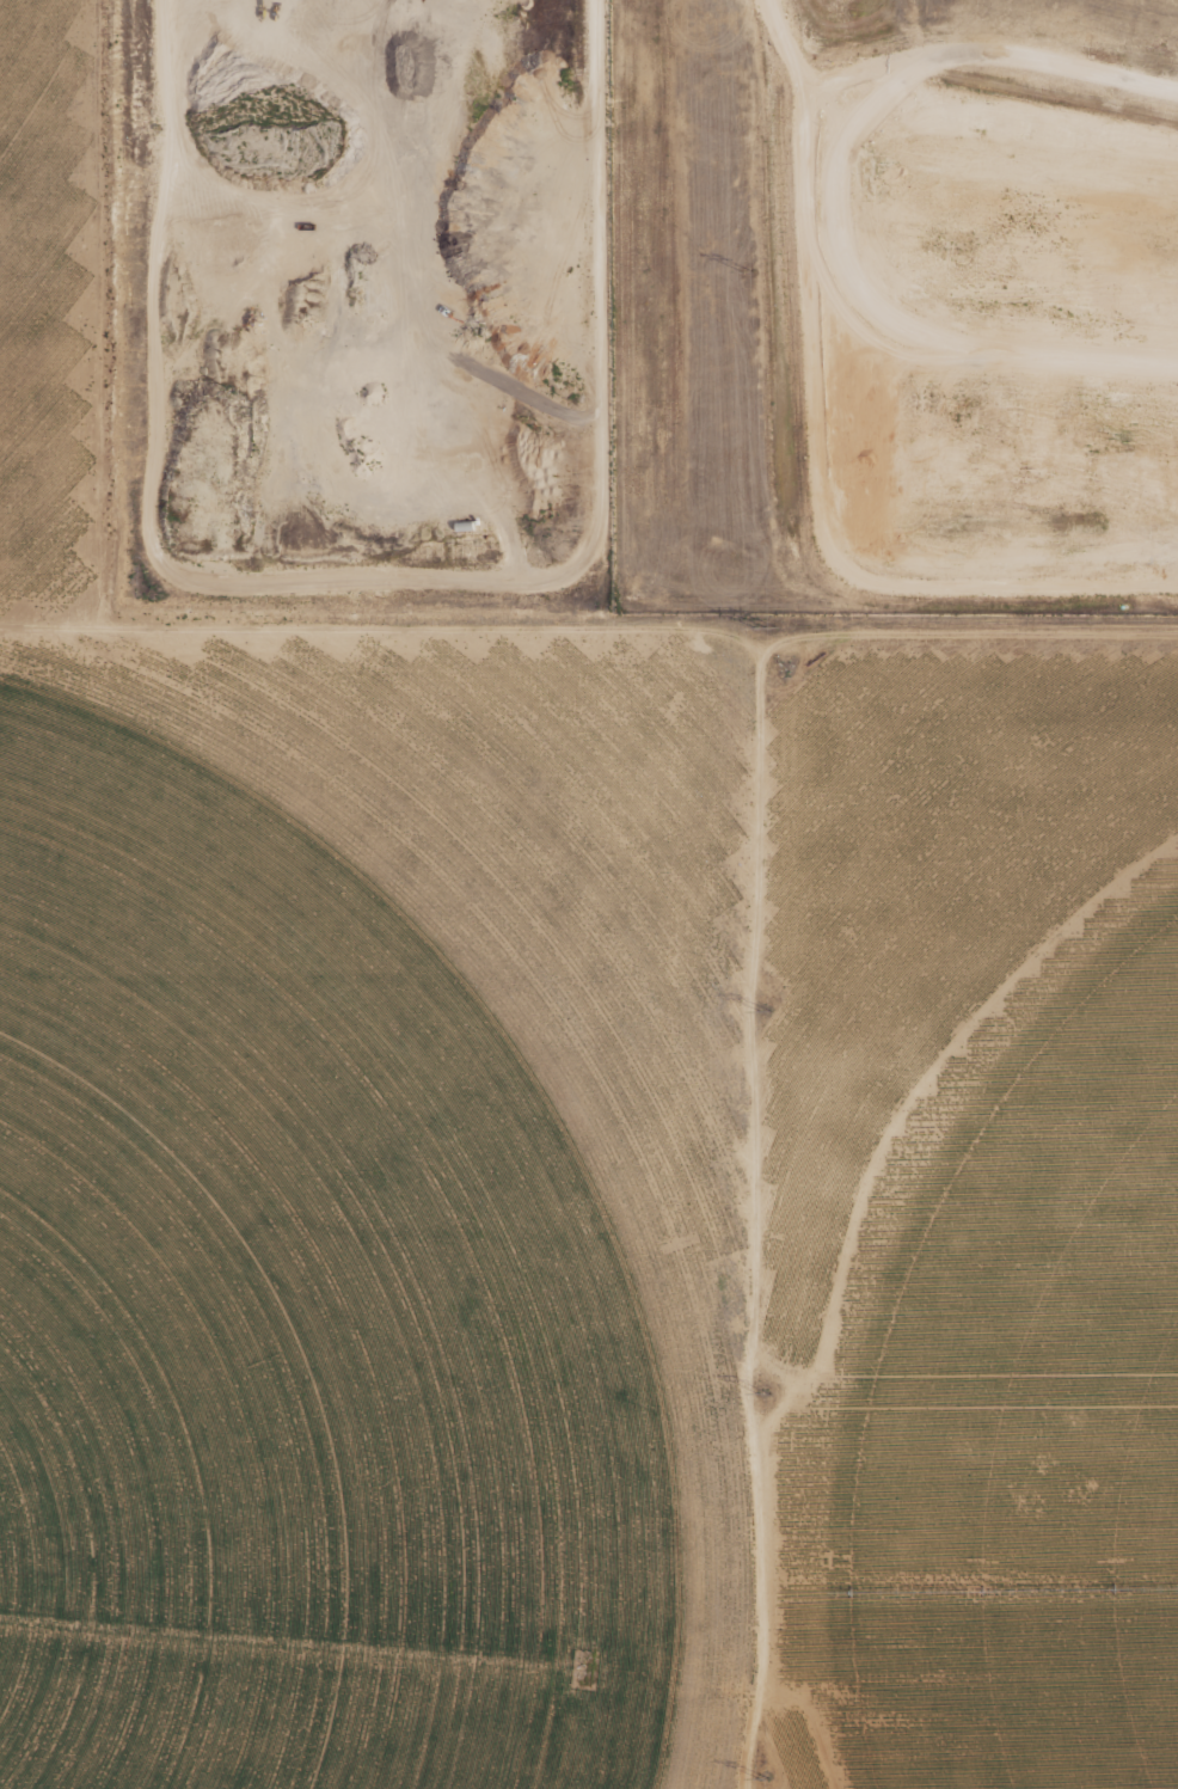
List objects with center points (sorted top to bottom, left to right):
road: (944, 60)
road: (1036, 111)
building: (155, 127)
power tower: (748, 274)
landfill: (898, 302)
road: (892, 321)
road: (818, 496)
building: (476, 521)
building: (464, 525)
road: (368, 581)
power tower: (766, 629)
road: (963, 633)
road: (756, 840)
power tower: (766, 1012)
power tower: (763, 1395)
power tower: (763, 1778)

